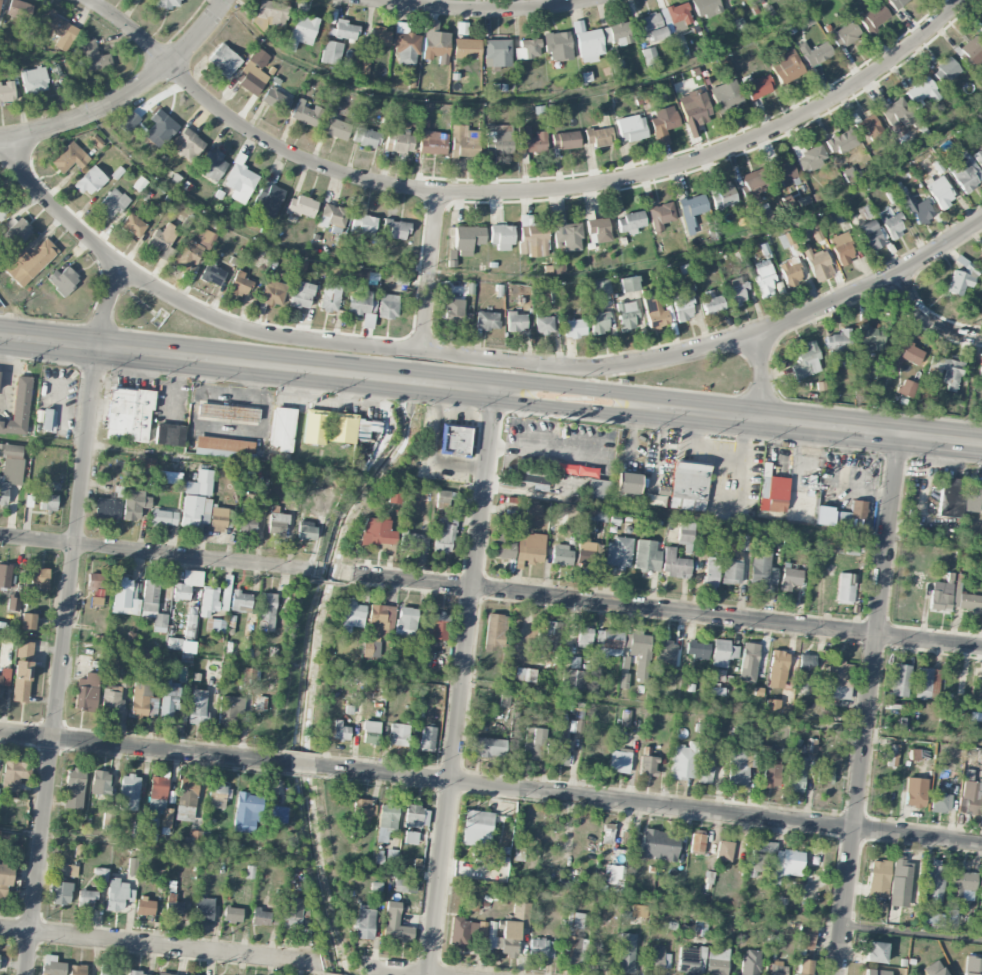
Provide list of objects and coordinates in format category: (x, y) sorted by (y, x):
building: (798, 0)
building: (168, 3)
building: (897, 3)
building: (706, 8)
building: (18, 10)
road: (479, 10)
building: (270, 14)
building: (679, 16)
building: (874, 17)
building: (578, 26)
building: (653, 26)
building: (341, 29)
building: (58, 30)
building: (981, 30)
building: (301, 31)
building: (618, 33)
building: (845, 34)
building: (435, 42)
building: (405, 45)
building: (589, 45)
building: (558, 46)
building: (466, 48)
building: (527, 49)
building: (331, 52)
building: (971, 52)
building: (497, 53)
building: (815, 53)
building: (94, 57)
building: (650, 57)
building: (224, 60)
building: (787, 67)
building: (945, 71)
building: (253, 72)
building: (34, 81)
building: (758, 87)
building: (922, 92)
building: (7, 93)
road: (128, 94)
building: (726, 95)
road: (516, 98)
building: (277, 99)
building: (695, 110)
building: (305, 113)
building: (898, 113)
building: (129, 122)
building: (663, 124)
building: (335, 126)
building: (160, 129)
building: (631, 129)
building: (869, 129)
building: (366, 137)
building: (500, 137)
building: (599, 137)
building: (531, 140)
building: (565, 140)
building: (96, 141)
building: (400, 142)
building: (465, 142)
building: (841, 142)
building: (433, 143)
building: (187, 144)
building: (70, 157)
building: (810, 158)
building: (978, 158)
building: (212, 165)
building: (783, 173)
building: (966, 173)
building: (850, 174)
building: (90, 181)
building: (240, 182)
building: (755, 184)
building: (940, 192)
road: (522, 193)
building: (724, 195)
building: (267, 200)
building: (112, 203)
building: (301, 206)
building: (3, 208)
building: (692, 209)
building: (918, 209)
building: (763, 213)
building: (333, 216)
building: (660, 216)
building: (837, 217)
building: (631, 222)
building: (363, 224)
building: (133, 225)
building: (893, 225)
building: (396, 229)
building: (599, 229)
building: (868, 230)
building: (18, 231)
building: (567, 234)
building: (501, 237)
building: (467, 239)
building: (786, 239)
building: (533, 240)
building: (163, 242)
building: (842, 248)
building: (189, 253)
building: (30, 263)
building: (819, 265)
building: (301, 268)
building: (790, 271)
road: (432, 272)
building: (212, 273)
road: (471, 276)
building: (764, 278)
building: (962, 278)
building: (63, 280)
building: (240, 284)
building: (628, 284)
building: (600, 287)
building: (737, 291)
building: (273, 293)
building: (301, 295)
building: (330, 297)
building: (712, 303)
building: (683, 305)
road: (107, 306)
building: (388, 306)
building: (363, 308)
building: (453, 310)
building: (655, 312)
road: (10, 313)
building: (627, 315)
building: (487, 320)
road: (928, 320)
building: (515, 321)
building: (600, 322)
building: (543, 324)
building: (574, 328)
road: (977, 328)
building: (872, 337)
building: (838, 344)
building: (905, 355)
road: (471, 358)
building: (806, 361)
road: (5, 370)
building: (945, 372)
building: (980, 374)
road: (763, 377)
road: (491, 388)
building: (907, 388)
building: (18, 408)
building: (227, 412)
building: (128, 415)
road: (58, 422)
building: (47, 425)
building: (315, 427)
building: (342, 428)
building: (364, 428)
building: (282, 429)
building: (169, 435)
building: (455, 440)
road: (521, 443)
building: (224, 448)
road: (430, 448)
road: (177, 456)
building: (10, 469)
building: (576, 470)
building: (168, 477)
building: (533, 479)
building: (626, 483)
building: (200, 484)
building: (688, 486)
building: (598, 489)
building: (974, 489)
building: (394, 495)
building: (774, 495)
building: (656, 497)
building: (951, 498)
building: (446, 500)
building: (47, 502)
building: (121, 504)
building: (533, 508)
building: (857, 510)
building: (195, 511)
building: (596, 515)
road: (692, 515)
building: (164, 518)
building: (218, 519)
building: (248, 520)
building: (277, 525)
building: (306, 532)
building: (377, 532)
building: (685, 533)
building: (444, 535)
building: (414, 539)
building: (744, 542)
building: (505, 544)
building: (530, 549)
building: (619, 552)
road: (154, 553)
building: (589, 553)
building: (562, 555)
building: (646, 556)
building: (675, 564)
building: (762, 569)
building: (732, 571)
building: (711, 574)
building: (5, 576)
building: (40, 578)
building: (790, 579)
building: (96, 581)
building: (187, 585)
building: (845, 588)
building: (941, 594)
building: (125, 597)
building: (96, 601)
building: (208, 602)
building: (241, 602)
building: (969, 602)
building: (13, 604)
building: (153, 606)
road: (663, 611)
building: (266, 612)
building: (352, 616)
building: (27, 621)
building: (406, 622)
building: (215, 625)
building: (190, 626)
building: (437, 627)
building: (378, 629)
building: (495, 631)
road: (32, 636)
building: (550, 636)
building: (584, 637)
road: (65, 639)
building: (173, 643)
building: (612, 643)
building: (187, 647)
building: (697, 649)
building: (723, 653)
building: (85, 661)
building: (748, 662)
building: (777, 669)
building: (22, 672)
building: (624, 672)
building: (805, 672)
building: (525, 674)
building: (717, 675)
building: (4, 677)
building: (125, 677)
building: (838, 679)
building: (572, 680)
building: (900, 680)
road: (461, 681)
building: (926, 683)
building: (955, 685)
building: (86, 692)
building: (143, 698)
building: (111, 699)
building: (169, 701)
building: (505, 701)
building: (259, 703)
road: (871, 705)
building: (772, 706)
road: (653, 709)
building: (198, 710)
building: (228, 710)
building: (418, 710)
building: (625, 718)
building: (340, 731)
building: (370, 732)
building: (399, 735)
building: (427, 738)
building: (535, 745)
road: (140, 747)
building: (487, 747)
building: (891, 754)
building: (560, 755)
building: (620, 761)
building: (684, 762)
road: (300, 763)
building: (648, 765)
building: (705, 768)
building: (737, 768)
building: (27, 770)
building: (795, 774)
building: (825, 775)
building: (12, 776)
building: (771, 776)
building: (100, 782)
building: (74, 788)
building: (129, 792)
building: (915, 792)
building: (216, 796)
building: (972, 798)
building: (186, 800)
building: (941, 803)
road: (650, 805)
building: (247, 813)
building: (279, 814)
building: (360, 816)
building: (416, 816)
building: (167, 818)
building: (387, 821)
building: (477, 828)
building: (610, 834)
building: (409, 837)
building: (193, 838)
building: (697, 841)
road: (149, 845)
building: (658, 845)
building: (724, 851)
building: (774, 861)
building: (135, 866)
building: (70, 871)
building: (614, 875)
building: (879, 878)
building: (933, 878)
building: (5, 879)
building: (900, 882)
building: (405, 885)
building: (962, 885)
building: (981, 886)
building: (60, 893)
building: (116, 895)
road: (589, 897)
building: (86, 899)
building: (173, 906)
building: (145, 907)
building: (203, 913)
building: (232, 915)
building: (927, 916)
building: (260, 917)
building: (291, 917)
building: (575, 920)
building: (364, 923)
building: (395, 923)
road: (15, 929)
building: (509, 930)
building: (465, 931)
road: (914, 933)
building: (804, 937)
road: (175, 946)
building: (541, 948)
building: (569, 950)
building: (876, 952)
road: (28, 953)
building: (626, 953)
building: (660, 958)
building: (691, 960)
building: (717, 962)
building: (750, 962)
building: (52, 966)
building: (973, 966)
building: (803, 967)
building: (776, 968)
building: (78, 970)
road: (405, 970)
building: (876, 972)
building: (938, 972)
building: (108, 973)
building: (139, 973)
building: (164, 974)

